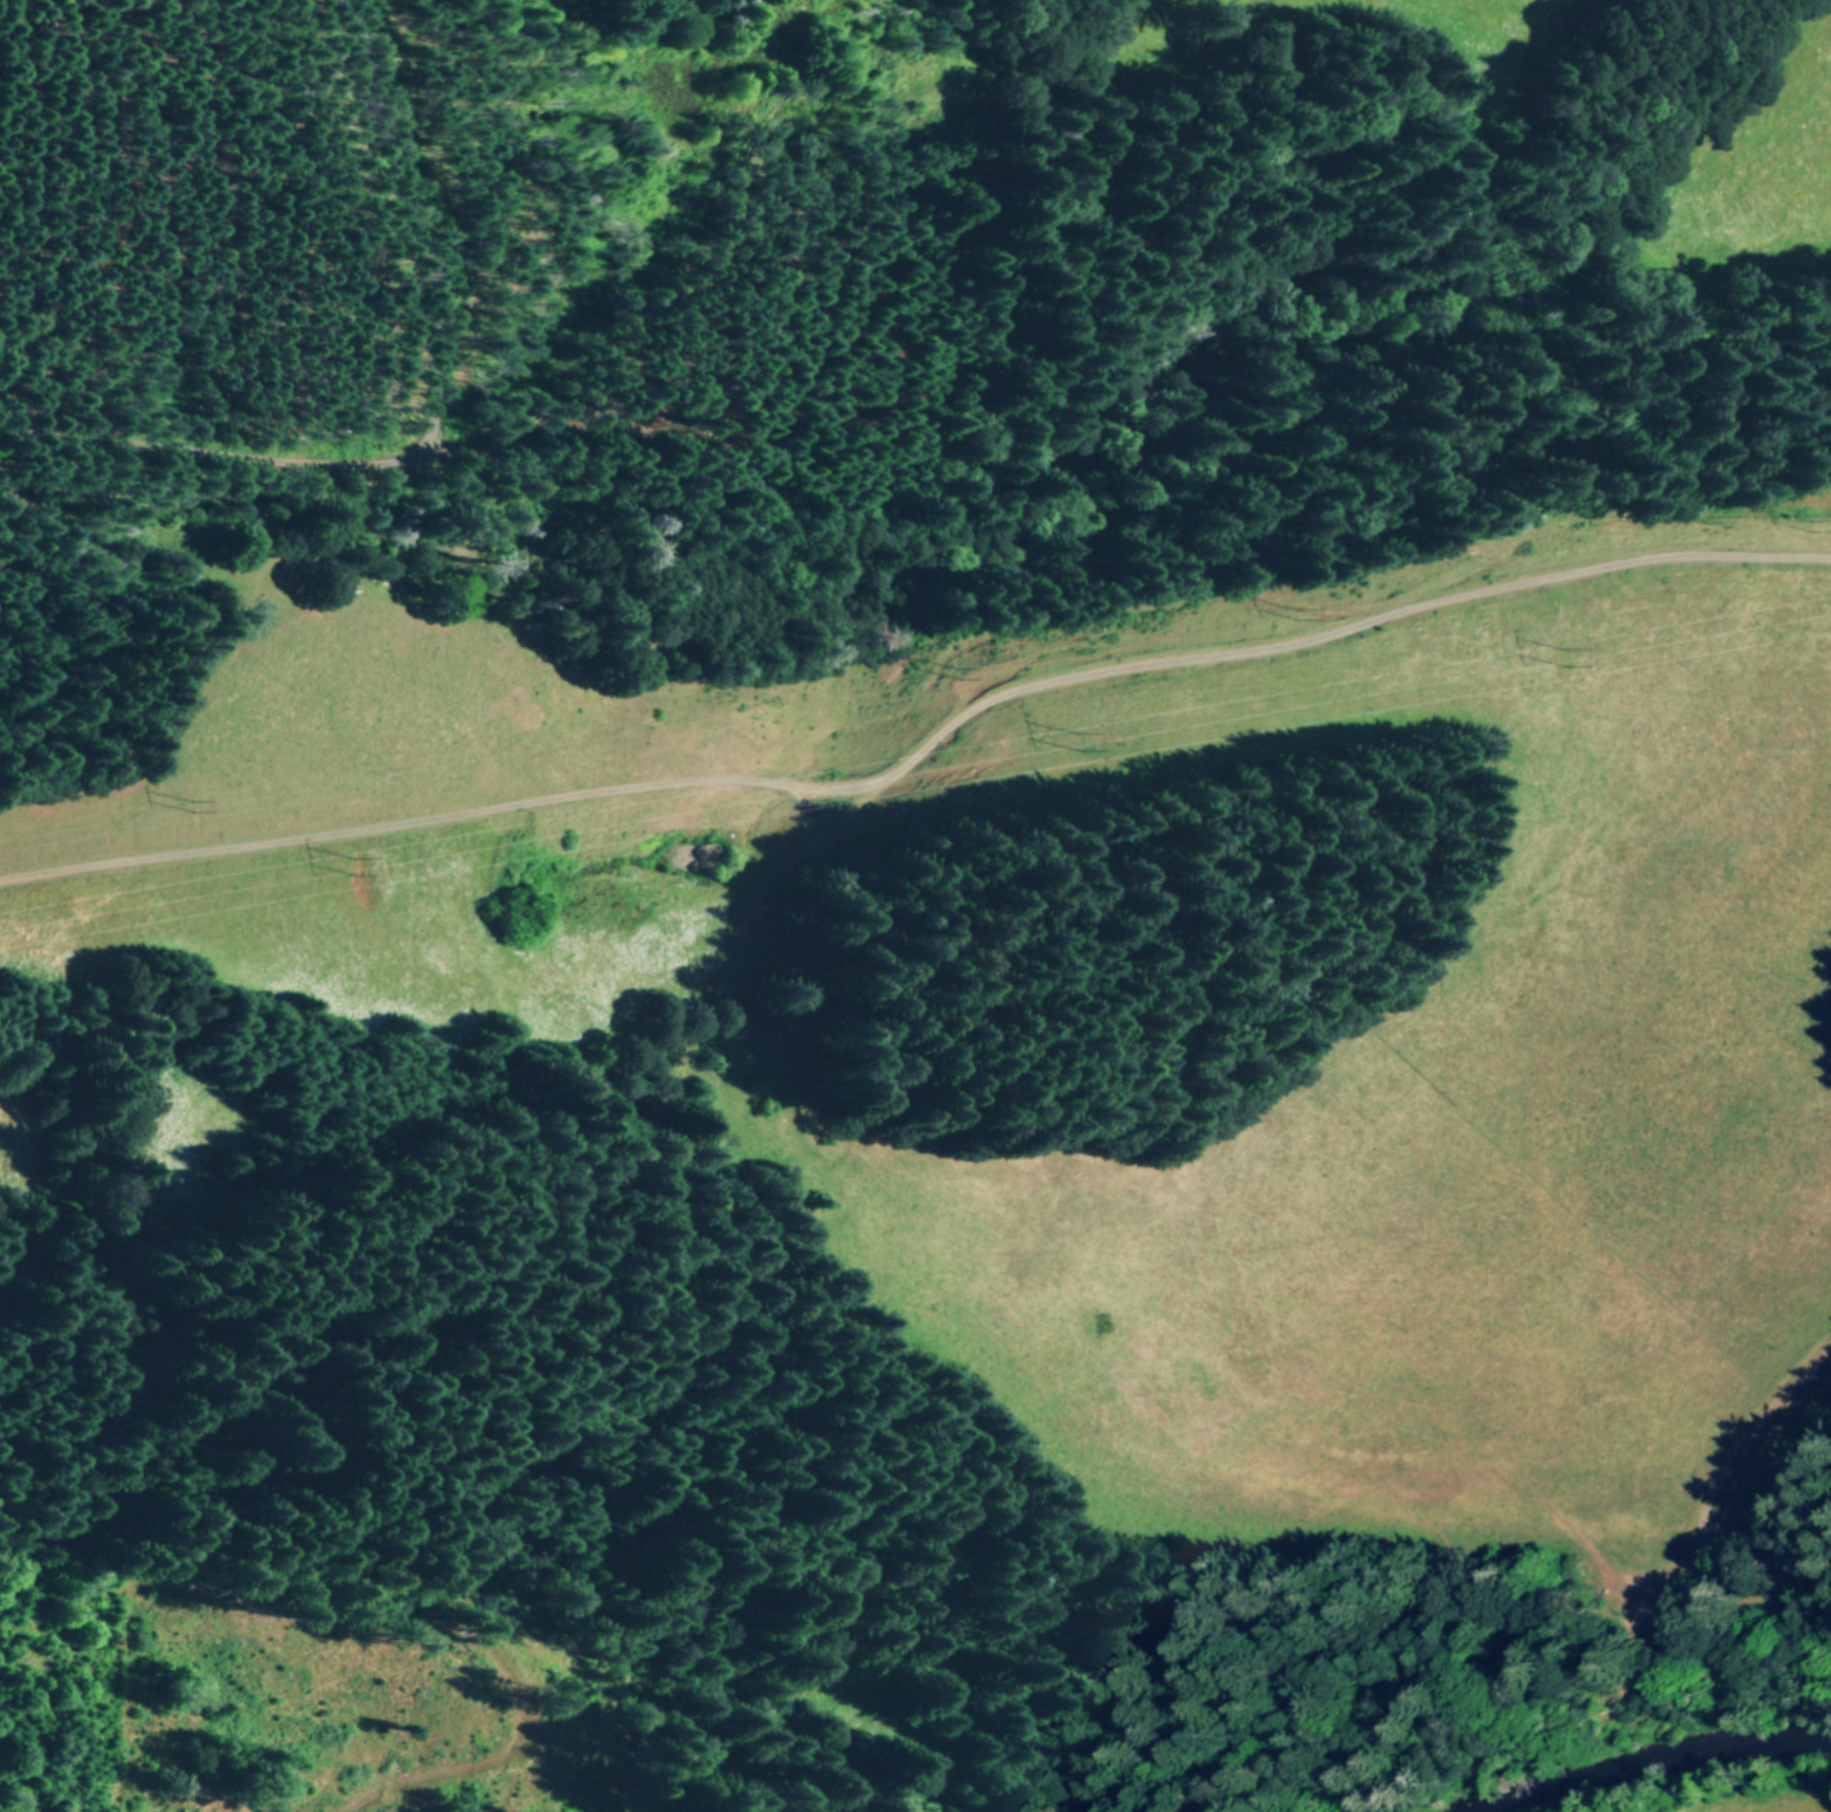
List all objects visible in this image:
power tower: (1583, 658)
power tower: (1103, 738)
power tower: (376, 865)
river: (1704, 1796)

